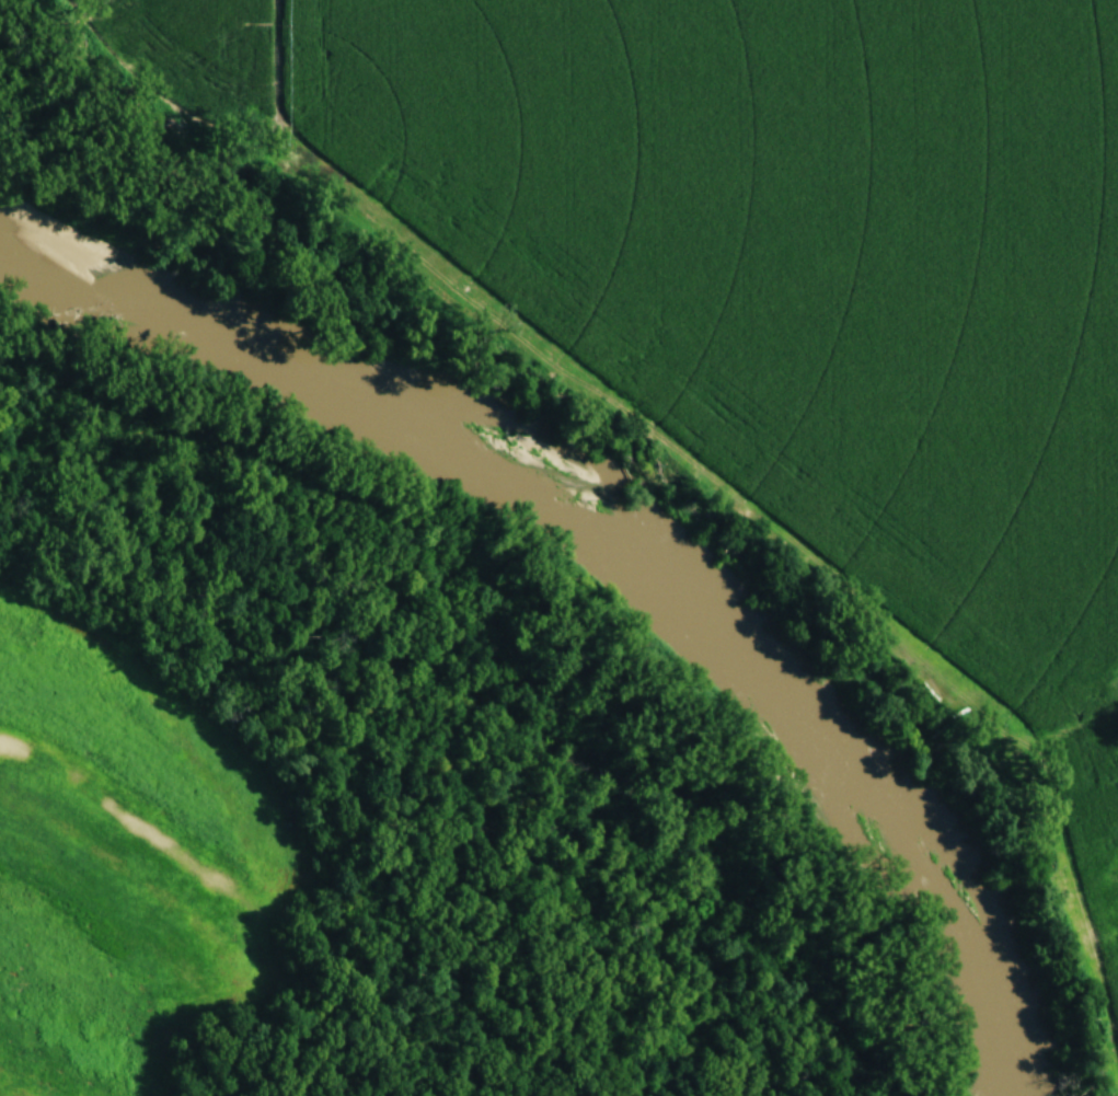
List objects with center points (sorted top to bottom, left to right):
river: (615, 528)

